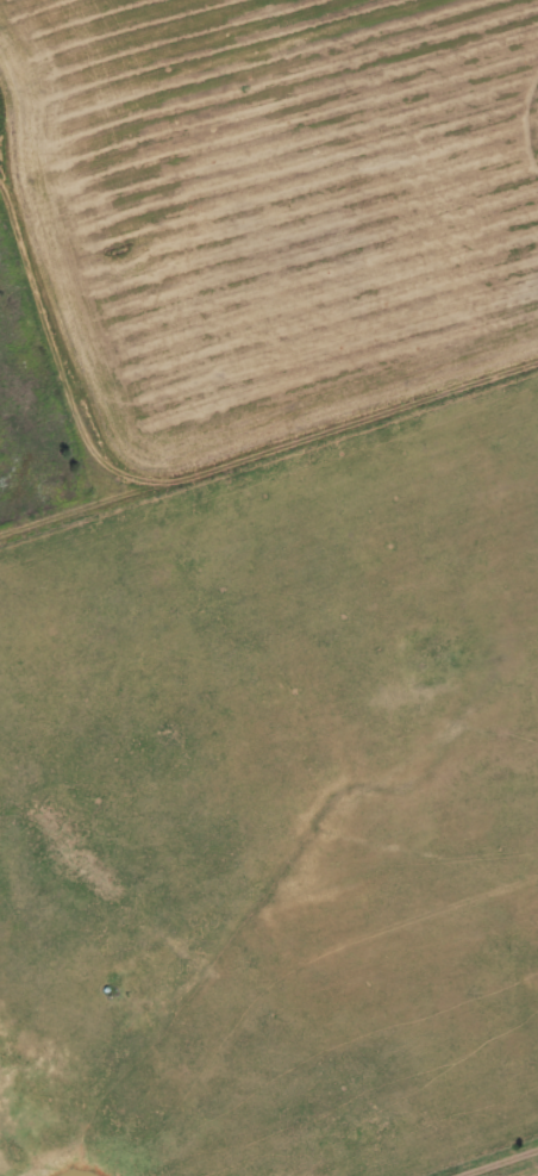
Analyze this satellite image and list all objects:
road: (534, 1175)

